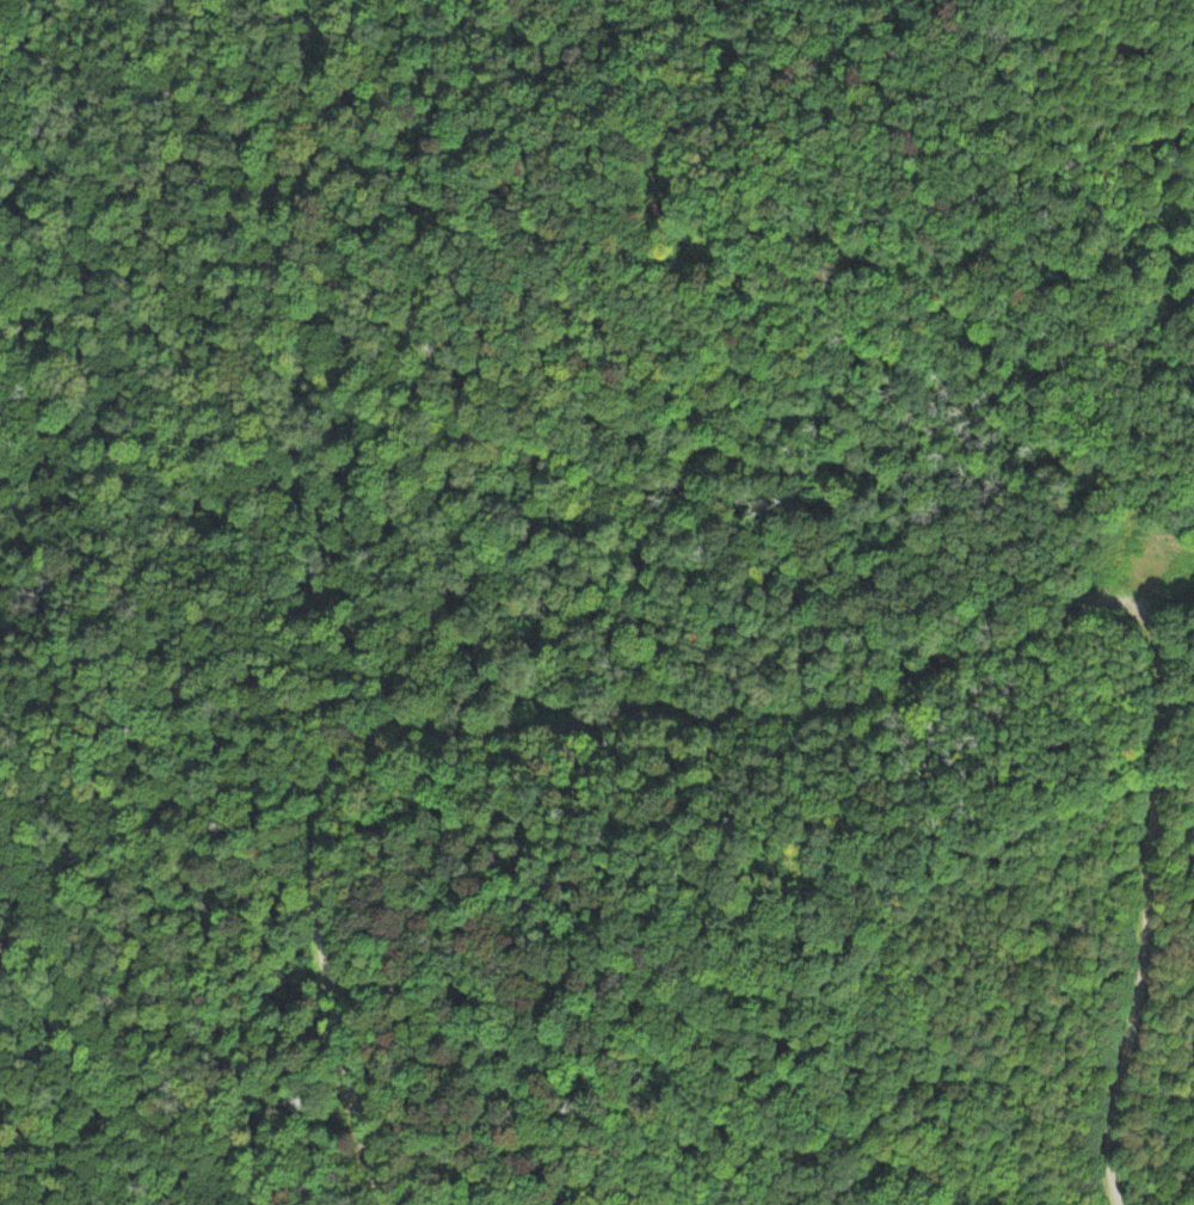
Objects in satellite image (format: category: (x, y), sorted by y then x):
road: (492, 720)
road: (1147, 894)
road: (90, 1075)

